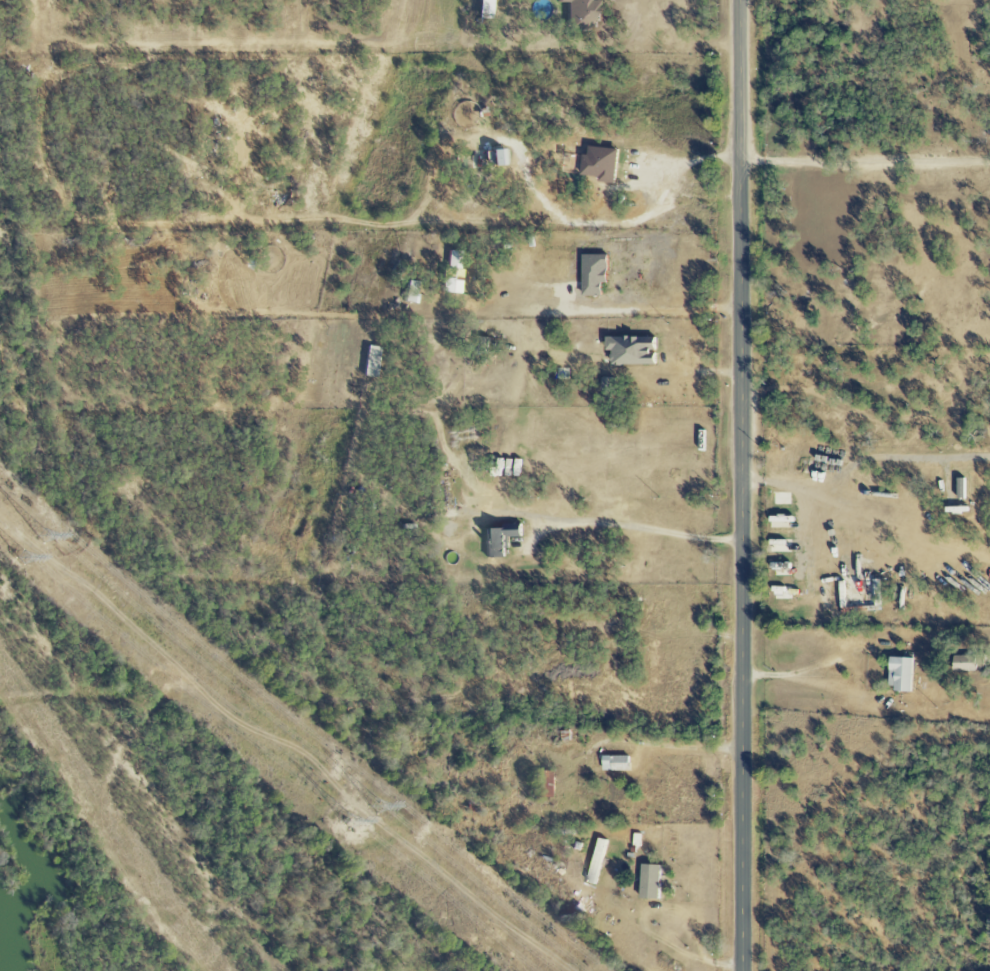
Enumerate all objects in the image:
building: (579, 13)
building: (493, 157)
building: (597, 164)
road: (686, 164)
road: (865, 166)
building: (452, 273)
building: (591, 274)
building: (408, 291)
road: (625, 315)
building: (480, 343)
building: (631, 350)
road: (860, 463)
road: (740, 485)
road: (886, 521)
road: (638, 527)
road: (811, 529)
power tower: (51, 536)
building: (495, 540)
power tower: (33, 558)
building: (963, 663)
road: (803, 668)
building: (898, 674)
road: (675, 746)
building: (614, 763)
power tower: (383, 806)
power tower: (360, 824)
building: (595, 862)
building: (647, 882)
road: (646, 927)

